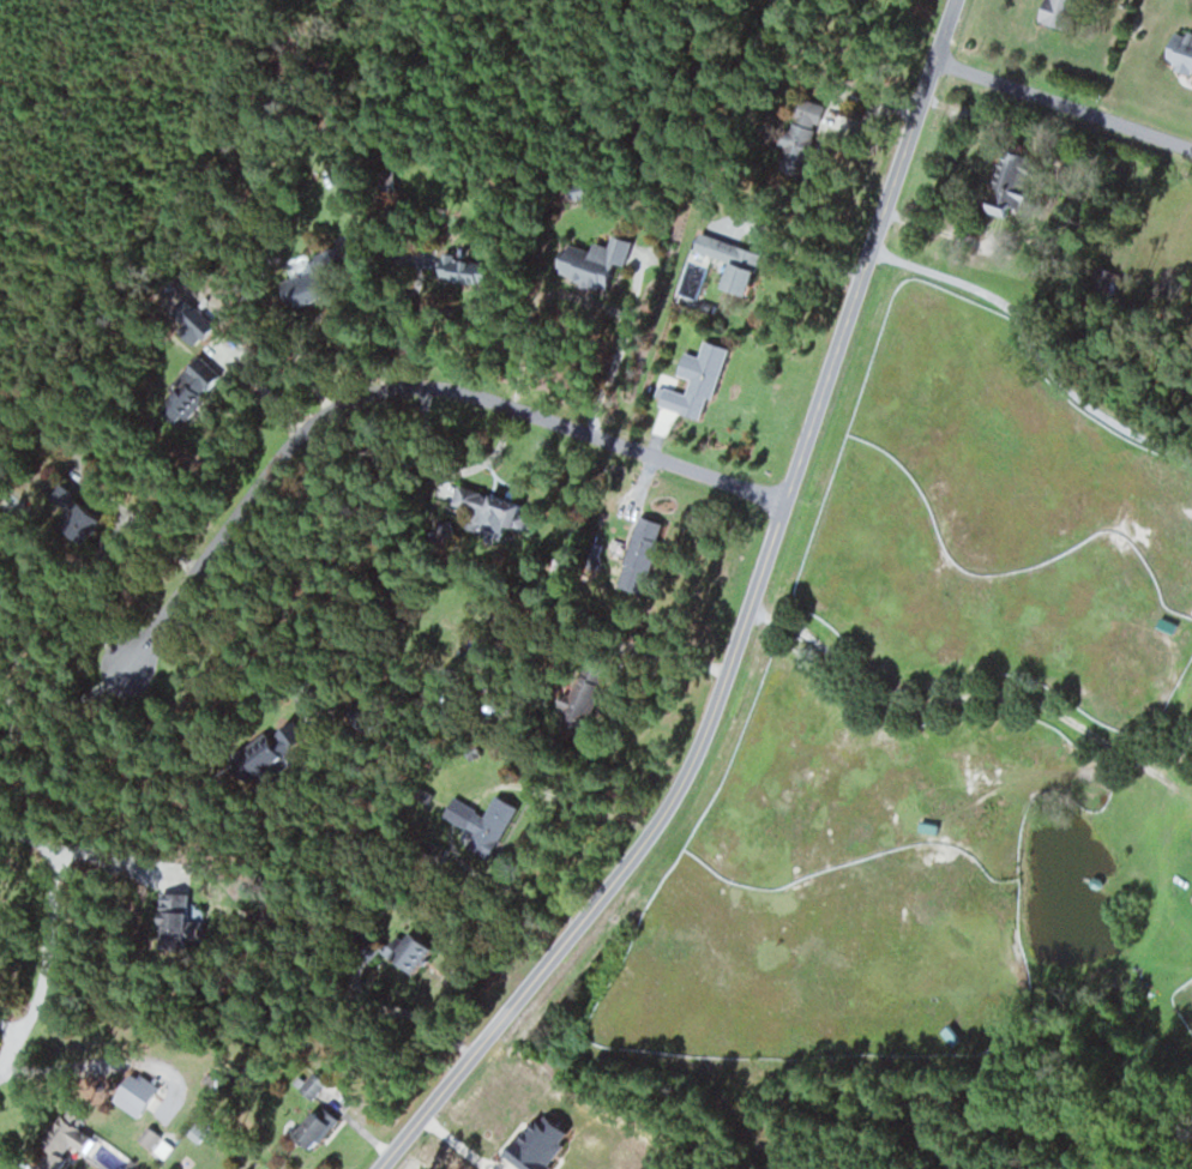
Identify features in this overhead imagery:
building: (1054, 12)
building: (1179, 50)
road: (1064, 106)
building: (799, 125)
building: (385, 180)
building: (1005, 183)
building: (726, 257)
building: (590, 261)
building: (452, 270)
building: (295, 288)
building: (193, 376)
building: (692, 381)
road: (393, 388)
building: (481, 510)
building: (71, 516)
building: (637, 550)
road: (745, 625)
road: (945, 701)
building: (572, 706)
building: (249, 758)
building: (486, 826)
building: (165, 928)
building: (393, 950)
building: (949, 1035)
road: (14, 1046)
building: (140, 1095)
building: (311, 1127)
building: (76, 1134)

